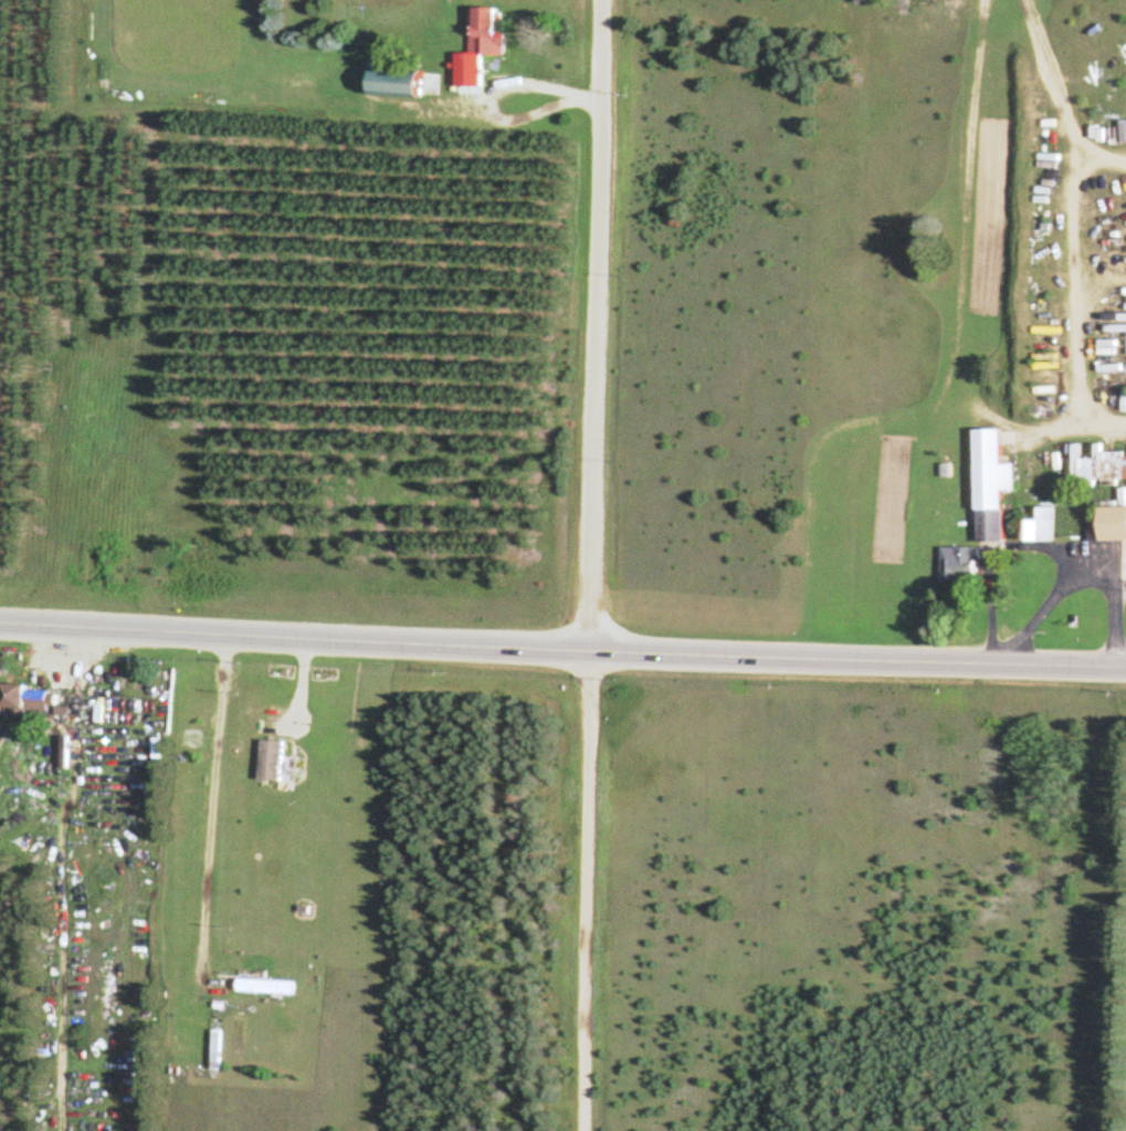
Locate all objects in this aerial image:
building: (476, 45)
building: (397, 80)
road: (490, 92)
road: (1053, 101)
road: (964, 282)
road: (1080, 283)
road: (811, 449)
building: (986, 483)
building: (1105, 523)
building: (1038, 524)
parking lot: (1085, 556)
road: (1098, 559)
road: (590, 565)
building: (954, 565)
road: (987, 601)
road: (1112, 609)
road: (562, 648)
road: (301, 691)
building: (25, 700)
building: (272, 754)
road: (213, 821)
road: (61, 877)
building: (266, 984)

